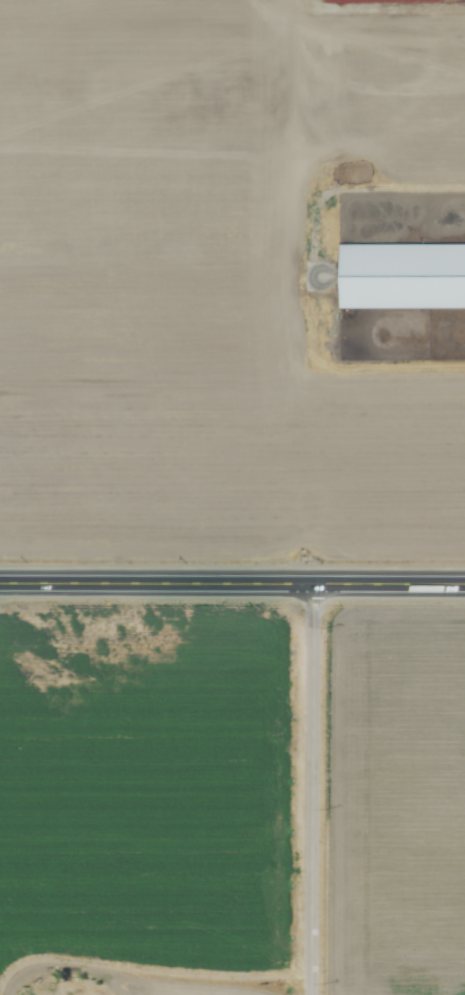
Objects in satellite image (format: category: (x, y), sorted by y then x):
building: (401, 278)
road: (232, 583)
road: (311, 789)

